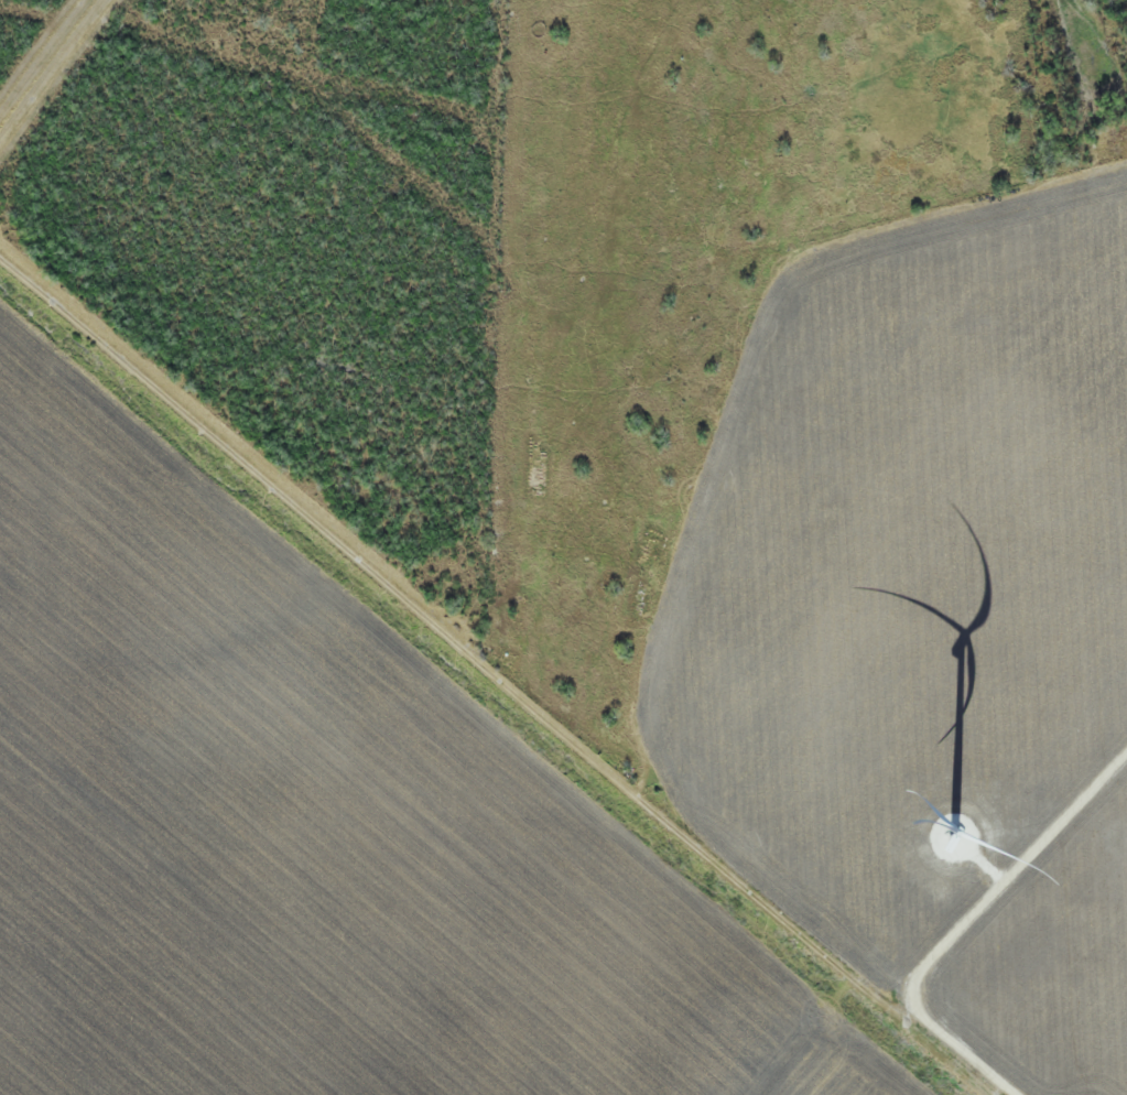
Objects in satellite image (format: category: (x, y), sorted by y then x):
wind turbine: (957, 825)

